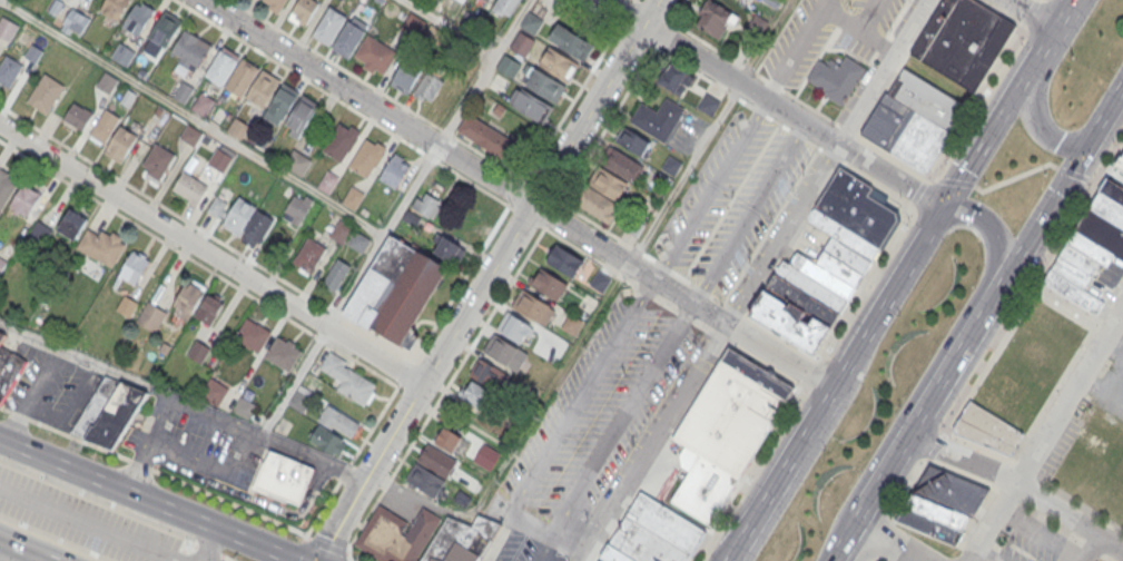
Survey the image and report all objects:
building: (738, 0)
building: (487, 1)
building: (600, 2)
building: (275, 4)
building: (112, 8)
building: (305, 8)
building: (137, 16)
road: (873, 17)
road: (1037, 18)
building: (713, 19)
building: (75, 23)
building: (328, 23)
building: (531, 23)
building: (6, 27)
building: (165, 27)
road: (450, 27)
road: (860, 31)
building: (570, 41)
building: (963, 41)
building: (521, 45)
road: (795, 49)
building: (122, 52)
building: (374, 52)
building: (189, 53)
building: (221, 63)
road: (335, 63)
building: (558, 63)
building: (9, 71)
road: (483, 71)
building: (240, 75)
road: (887, 75)
building: (836, 76)
building: (406, 77)
building: (106, 80)
building: (673, 80)
building: (541, 82)
building: (262, 86)
road: (1042, 86)
building: (46, 92)
building: (440, 92)
building: (283, 99)
building: (201, 101)
road: (342, 101)
building: (530, 105)
building: (708, 105)
road: (774, 106)
building: (302, 111)
building: (78, 116)
building: (657, 116)
building: (912, 120)
building: (104, 126)
building: (237, 126)
building: (189, 132)
building: (487, 137)
building: (339, 139)
building: (633, 142)
building: (121, 144)
road: (236, 144)
traffic signals: (1083, 151)
building: (366, 155)
building: (218, 157)
building: (297, 160)
building: (157, 161)
building: (394, 170)
road: (683, 174)
building: (610, 185)
parking lot: (712, 186)
building: (6, 187)
building: (189, 188)
road: (712, 193)
road: (518, 194)
building: (26, 195)
building: (353, 198)
building: (426, 204)
building: (297, 208)
traffic signals: (945, 209)
parking lot: (750, 211)
road: (748, 215)
building: (240, 218)
building: (71, 220)
building: (341, 230)
building: (39, 233)
road: (785, 237)
building: (358, 240)
road: (571, 243)
building: (1091, 243)
building: (101, 246)
building: (447, 250)
road: (211, 252)
building: (308, 255)
road: (1015, 258)
building: (1, 260)
building: (564, 260)
building: (827, 263)
building: (132, 266)
building: (336, 275)
road: (356, 279)
road: (486, 279)
road: (866, 280)
building: (600, 282)
road: (899, 282)
building: (548, 283)
building: (394, 288)
building: (186, 296)
building: (127, 304)
building: (207, 306)
road: (272, 307)
building: (533, 307)
road: (967, 307)
building: (150, 315)
building: (572, 325)
building: (513, 327)
building: (250, 332)
building: (1, 335)
building: (198, 350)
building: (282, 352)
building: (506, 353)
building: (9, 367)
building: (490, 374)
building: (756, 376)
building: (347, 377)
road: (296, 378)
road: (446, 383)
parking lot: (50, 387)
building: (215, 388)
building: (474, 393)
road: (35, 394)
building: (299, 398)
building: (243, 405)
road: (208, 407)
building: (108, 410)
building: (999, 410)
road: (161, 420)
building: (338, 421)
road: (1045, 435)
building: (327, 440)
building: (721, 440)
building: (451, 441)
parking lot: (197, 442)
road: (657, 443)
road: (193, 462)
building: (484, 463)
road: (885, 470)
building: (431, 471)
road: (165, 473)
building: (283, 475)
road: (797, 478)
road: (1019, 484)
road: (147, 499)
building: (461, 499)
building: (942, 504)
parking lot: (89, 520)
road: (92, 522)
road: (531, 525)
road: (506, 529)
building: (652, 535)
road: (894, 535)
road: (845, 537)
building: (461, 540)
road: (549, 543)
road: (213, 544)
road: (1086, 548)
road: (21, 551)
road: (919, 559)

